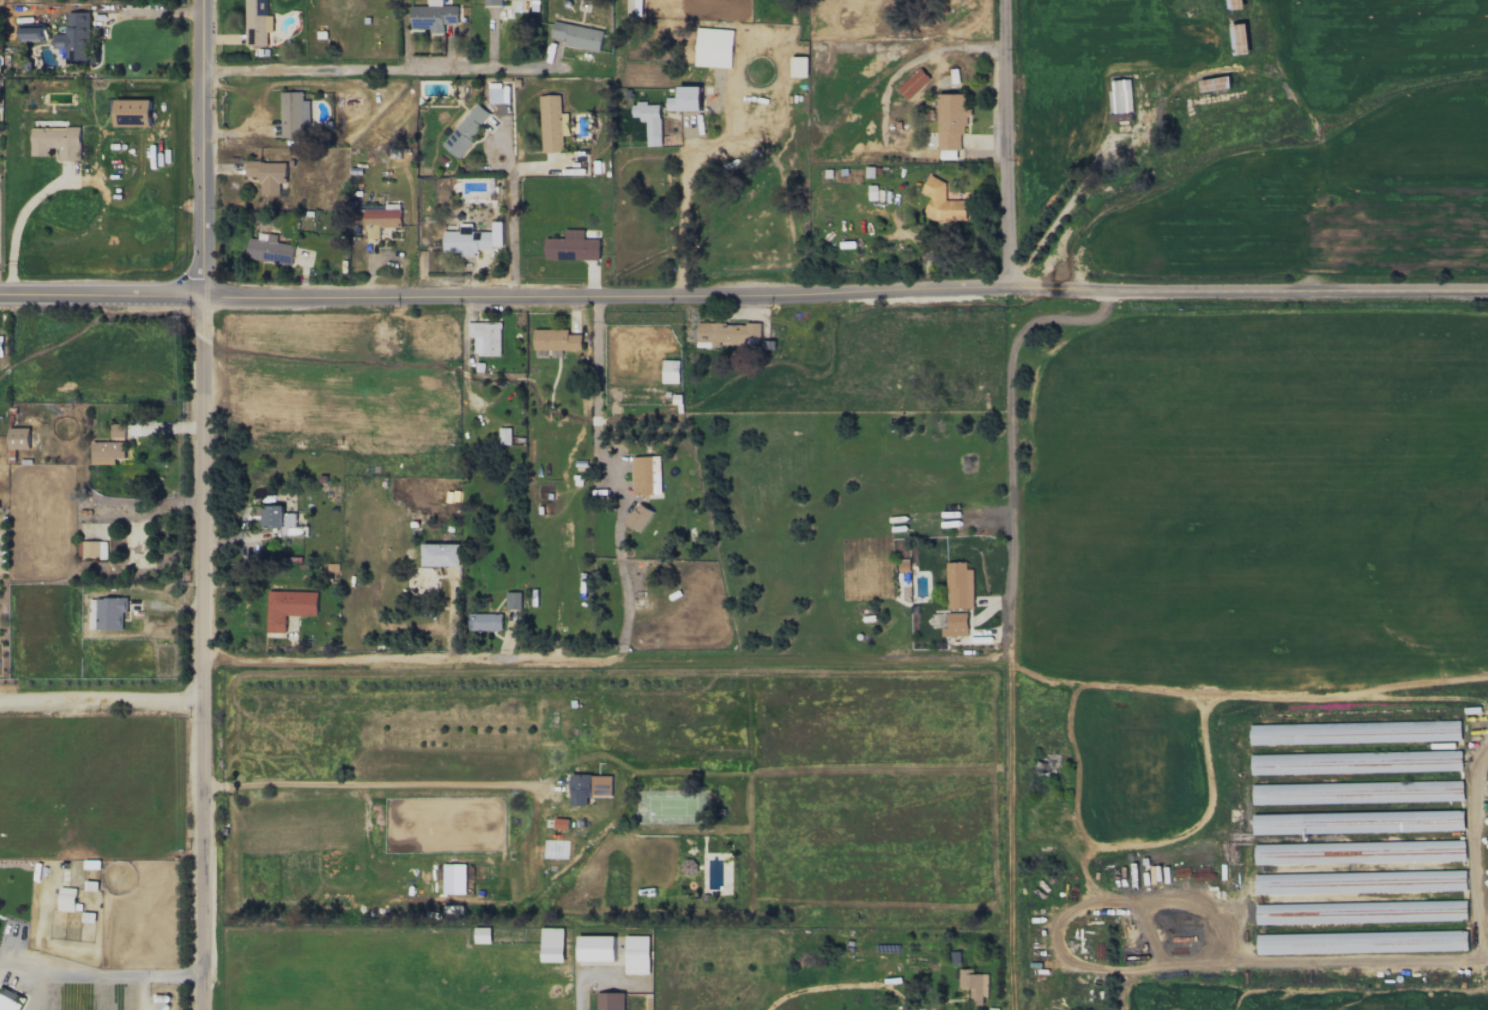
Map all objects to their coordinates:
building: (493, 2)
building: (1236, 4)
road: (153, 11)
building: (433, 16)
building: (256, 22)
building: (31, 31)
building: (577, 36)
building: (74, 38)
building: (1240, 39)
building: (714, 47)
building: (799, 66)
road: (408, 72)
building: (913, 83)
building: (1216, 84)
building: (496, 93)
building: (685, 99)
building: (1121, 100)
building: (132, 113)
building: (293, 114)
building: (649, 120)
building: (951, 120)
building: (552, 123)
building: (466, 130)
building: (56, 141)
road: (1011, 144)
road: (204, 149)
road: (508, 151)
road: (1114, 152)
road: (532, 169)
building: (267, 175)
road: (683, 193)
building: (942, 202)
building: (381, 219)
road: (18, 225)
road: (513, 234)
building: (472, 239)
building: (572, 246)
building: (269, 249)
road: (846, 293)
road: (102, 298)
building: (729, 334)
building: (485, 337)
building: (555, 339)
building: (670, 371)
building: (117, 430)
building: (505, 436)
building: (19, 438)
building: (106, 452)
building: (646, 475)
road: (611, 478)
building: (639, 517)
building: (280, 520)
building: (94, 549)
building: (441, 554)
building: (959, 585)
building: (513, 600)
building: (288, 607)
building: (485, 621)
building: (956, 624)
road: (1016, 648)
road: (204, 654)
road: (412, 660)
road: (824, 660)
road: (102, 704)
road: (1252, 705)
building: (1422, 731)
building: (1305, 733)
building: (1355, 762)
road: (394, 782)
road: (214, 785)
building: (589, 787)
building: (1288, 793)
building: (1442, 820)
building: (561, 823)
building: (1276, 823)
road: (1478, 850)
building: (454, 878)
building: (1307, 883)
building: (66, 898)
building: (482, 935)
building: (1362, 942)
building: (552, 944)
building: (595, 948)
building: (636, 954)
road: (68, 968)
road: (149, 968)
road: (593, 973)
road: (841, 985)
building: (974, 985)
building: (9, 1000)
building: (610, 1001)

